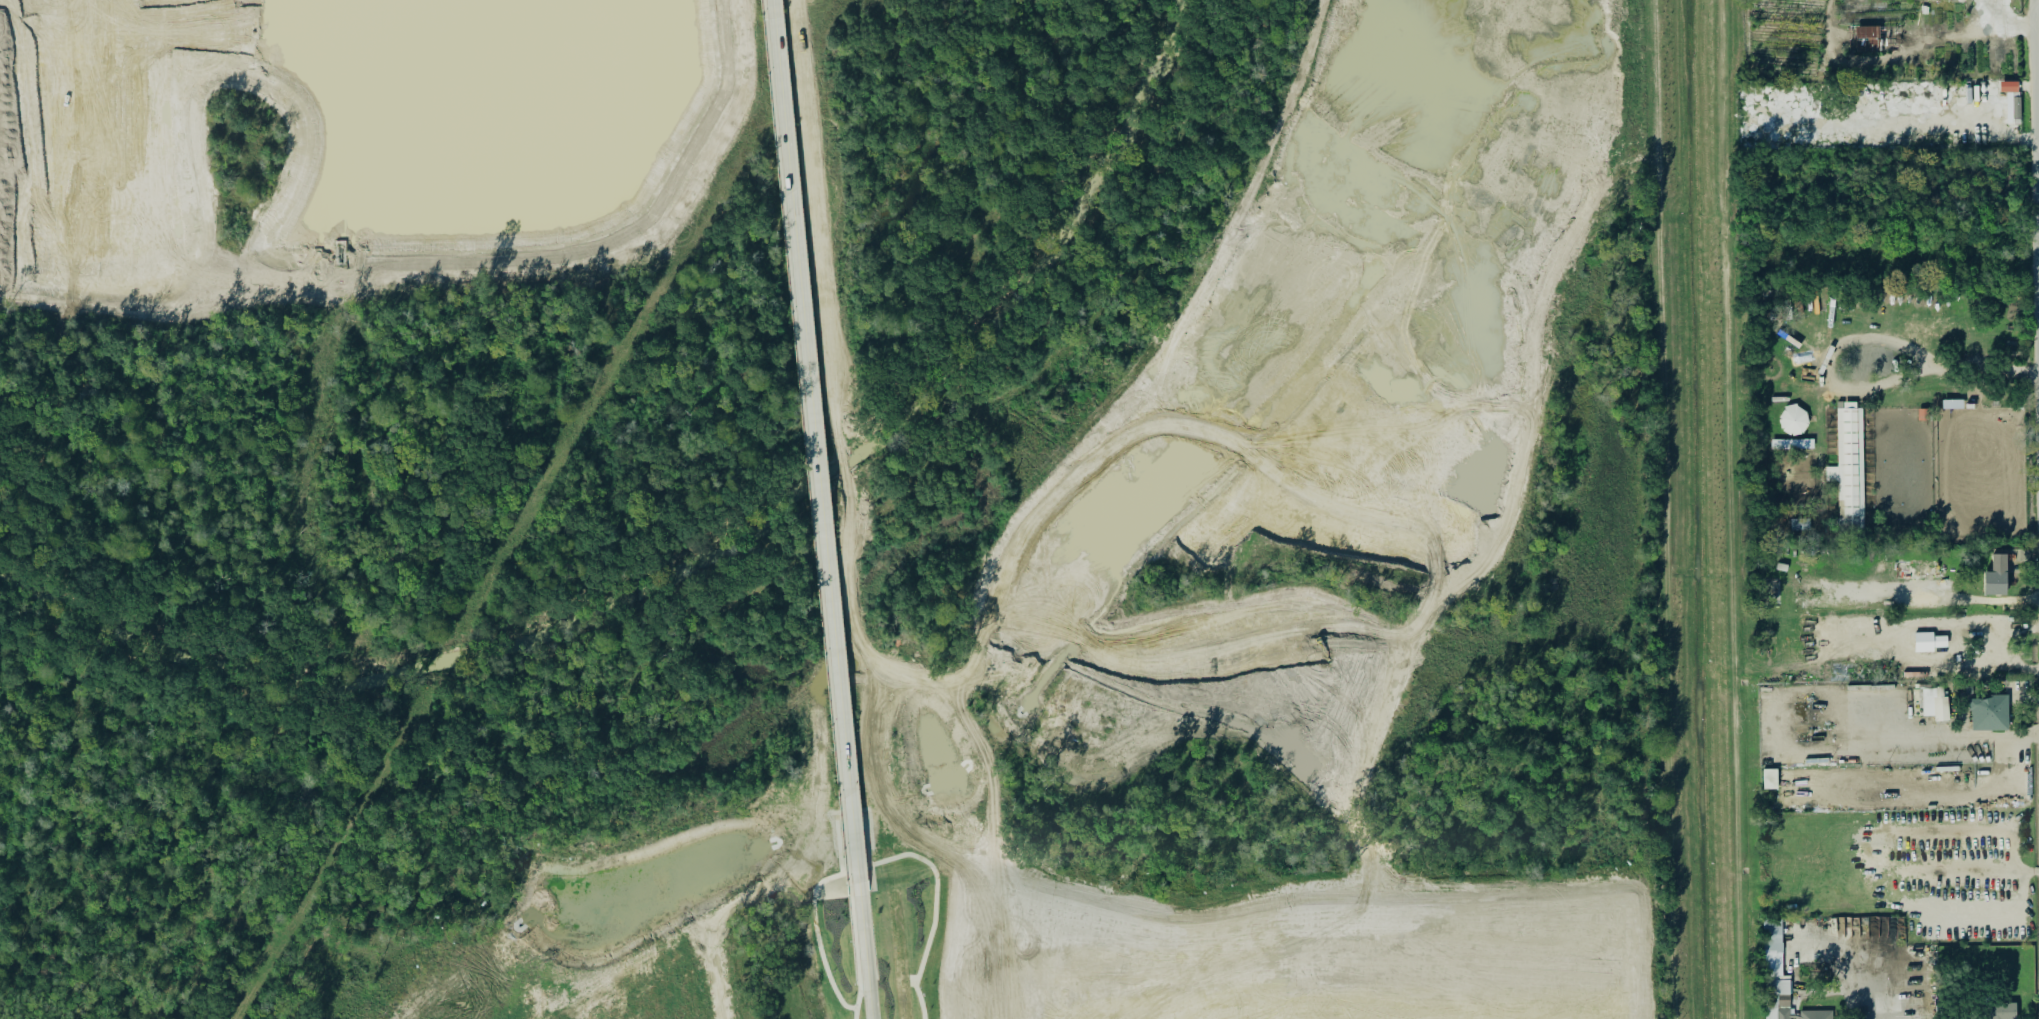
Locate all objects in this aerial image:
building: (1868, 40)
road: (1904, 61)
building: (2010, 87)
building: (2017, 108)
road: (2035, 163)
road: (1824, 368)
road: (1985, 371)
building: (1952, 404)
building: (1924, 416)
building: (1794, 422)
road: (817, 448)
building: (1850, 465)
river: (708, 554)
building: (1998, 577)
building: (1930, 643)
building: (1936, 705)
building: (1990, 715)
road: (1971, 741)
building: (1770, 780)
road: (866, 957)
building: (1776, 976)
building: (2003, 1012)
building: (1817, 1015)

